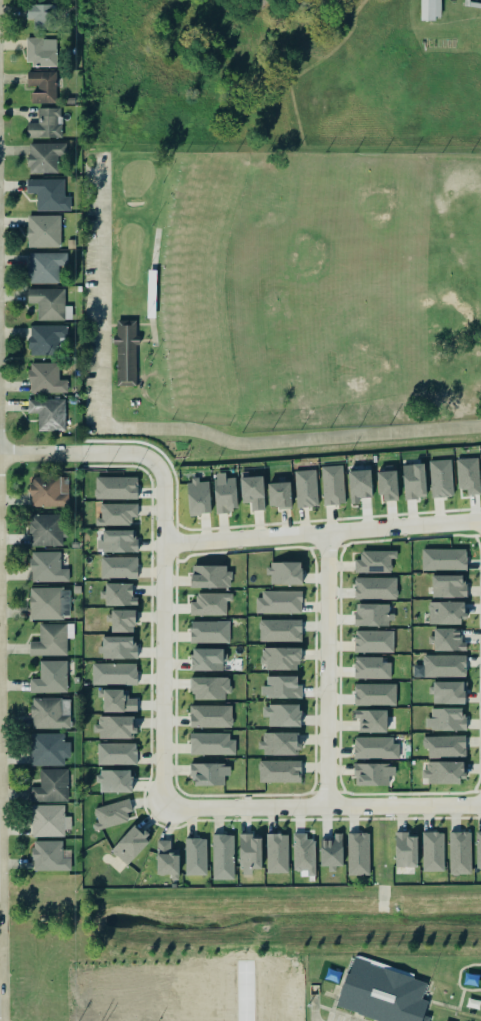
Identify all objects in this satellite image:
road: (471, 4)
road: (436, 7)
building: (426, 9)
building: (41, 15)
building: (41, 51)
building: (43, 86)
building: (46, 123)
building: (45, 156)
park: (135, 175)
building: (49, 194)
building: (44, 231)
park: (128, 251)
building: (45, 266)
road: (151, 285)
park: (294, 287)
road: (102, 302)
building: (50, 303)
parking lot: (89, 306)
road: (108, 324)
building: (48, 339)
road: (106, 339)
road: (144, 339)
road: (135, 345)
building: (124, 351)
building: (46, 378)
building: (48, 413)
road: (291, 438)
road: (78, 453)
building: (468, 474)
building: (441, 478)
building: (414, 480)
building: (387, 483)
building: (333, 484)
building: (360, 484)
building: (116, 487)
building: (306, 488)
building: (252, 490)
building: (49, 491)
building: (224, 493)
building: (279, 494)
building: (199, 496)
building: (116, 514)
building: (45, 529)
road: (322, 531)
building: (117, 541)
building: (444, 559)
building: (375, 561)
building: (47, 567)
building: (118, 567)
building: (285, 573)
building: (211, 576)
building: (448, 585)
building: (375, 587)
building: (118, 594)
building: (279, 601)
building: (49, 603)
building: (210, 603)
building: (446, 612)
building: (373, 614)
building: (122, 620)
building: (280, 630)
building: (209, 631)
building: (52, 639)
building: (448, 639)
building: (374, 641)
building: (118, 647)
building: (280, 657)
building: (206, 659)
building: (444, 665)
building: (372, 667)
road: (328, 668)
building: (114, 673)
building: (50, 677)
building: (281, 687)
building: (210, 688)
building: (448, 692)
building: (375, 694)
building: (117, 700)
building: (50, 712)
building: (282, 714)
building: (211, 715)
building: (446, 719)
building: (371, 720)
building: (116, 726)
building: (211, 743)
building: (280, 743)
building: (445, 745)
building: (375, 747)
building: (48, 749)
building: (117, 753)
building: (279, 770)
building: (443, 772)
building: (209, 773)
building: (373, 773)
building: (115, 780)
building: (51, 786)
road: (162, 793)
building: (112, 813)
building: (49, 820)
building: (130, 844)
building: (406, 849)
building: (478, 849)
building: (331, 851)
building: (433, 851)
building: (250, 852)
building: (277, 852)
building: (460, 852)
building: (304, 853)
building: (358, 853)
building: (49, 856)
building: (196, 856)
building: (223, 856)
building: (167, 858)
road: (2, 950)
building: (331, 975)
road: (458, 977)
building: (469, 979)
road: (430, 983)
road: (337, 988)
building: (381, 992)
road: (244, 993)
road: (439, 1001)
building: (472, 1002)
road: (314, 1007)
road: (454, 1010)
road: (339, 1012)
parking lot: (336, 1017)
building: (445, 1020)

